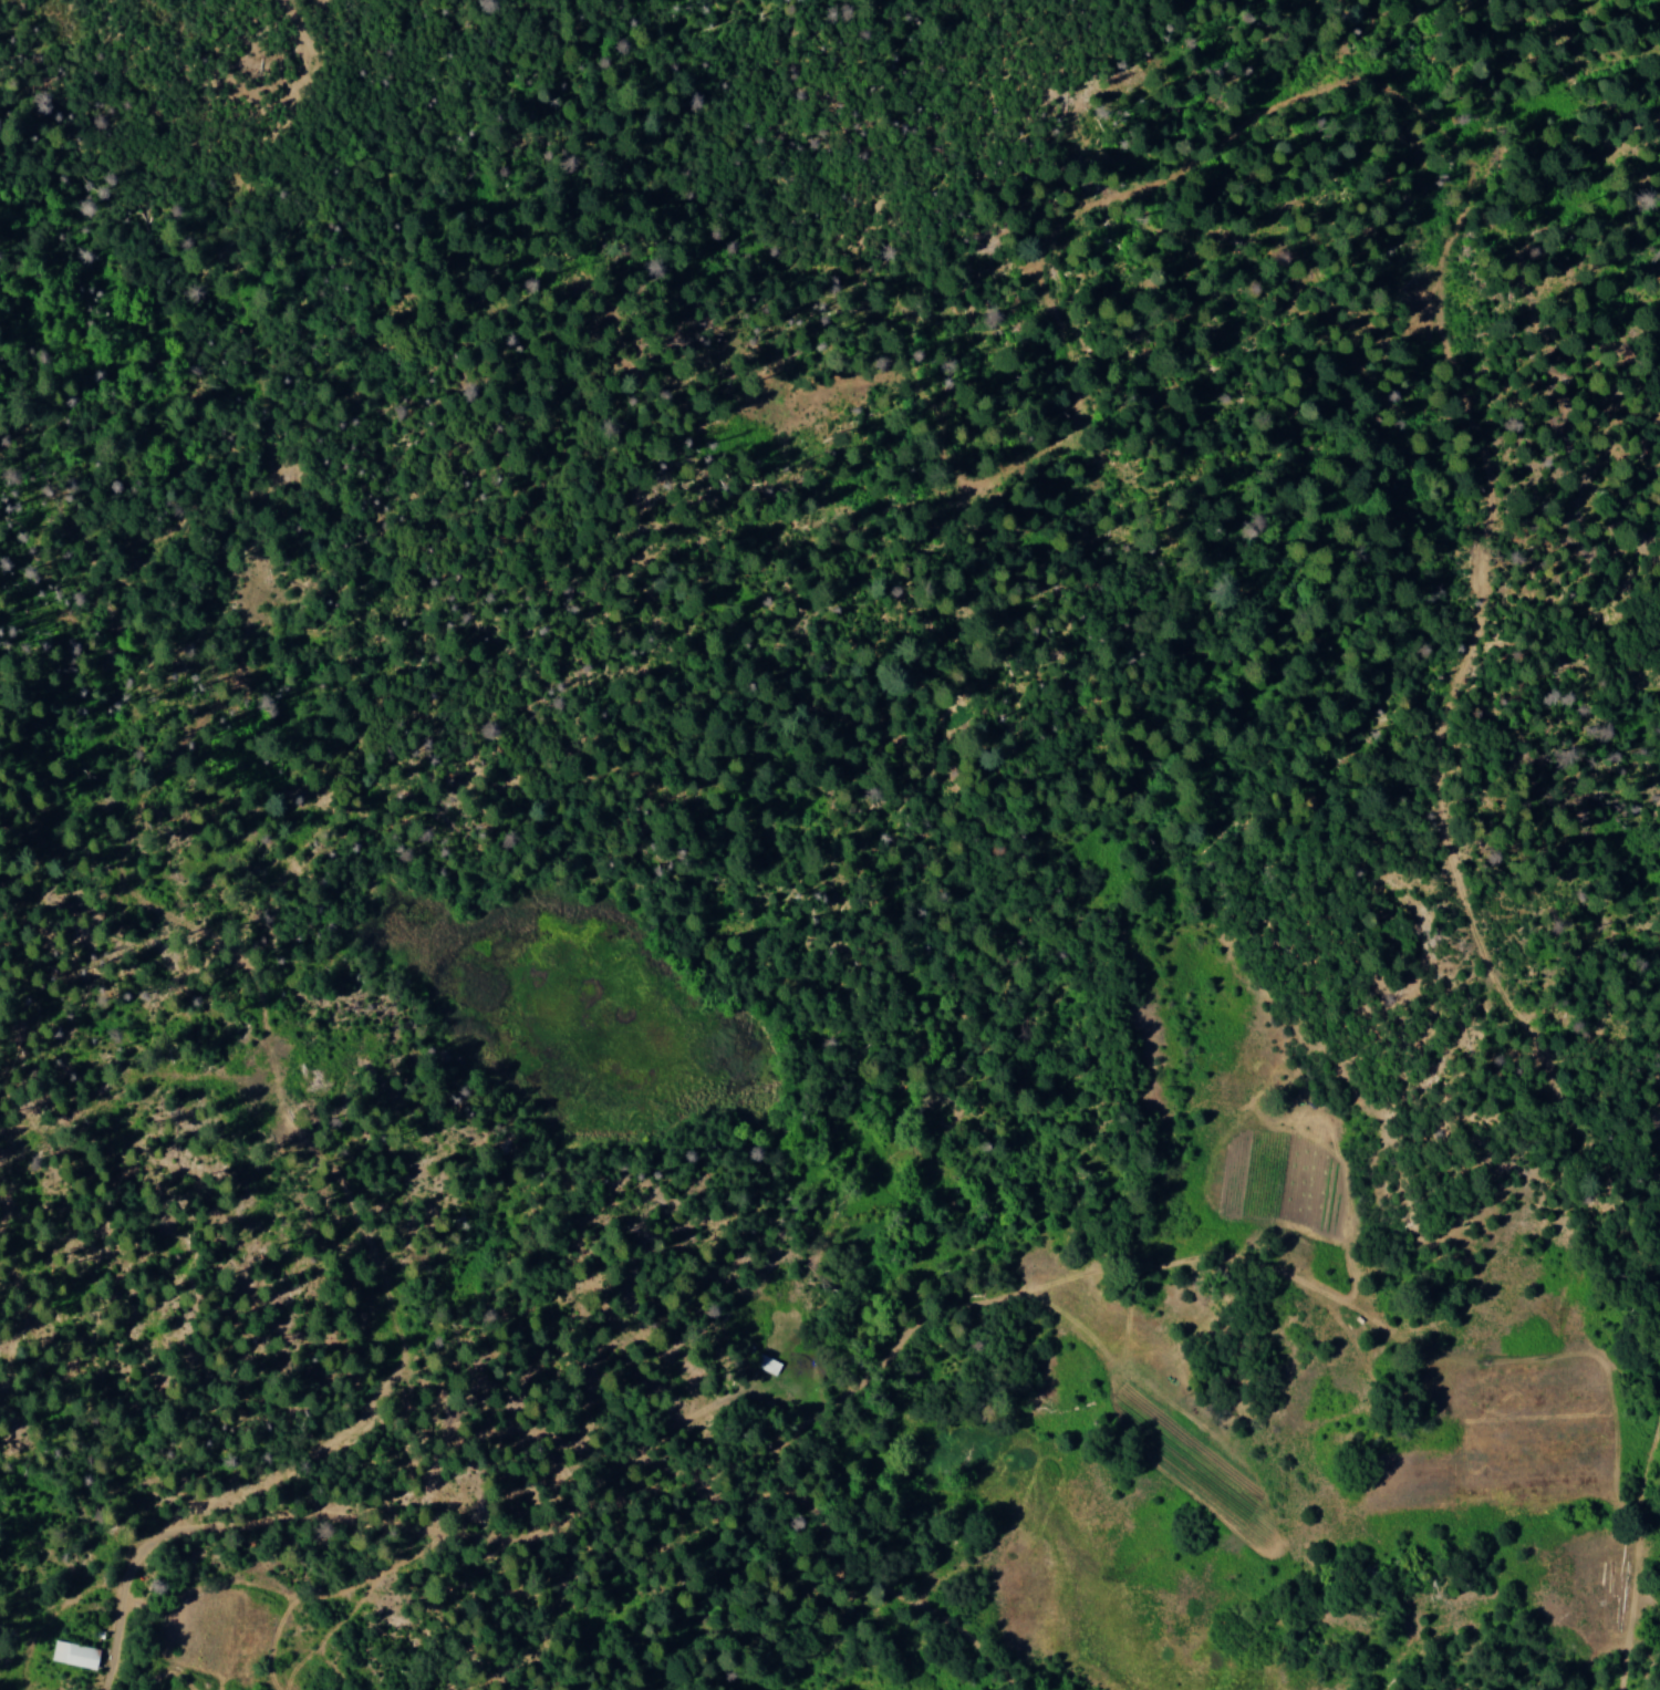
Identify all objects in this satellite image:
road: (541, 1501)

